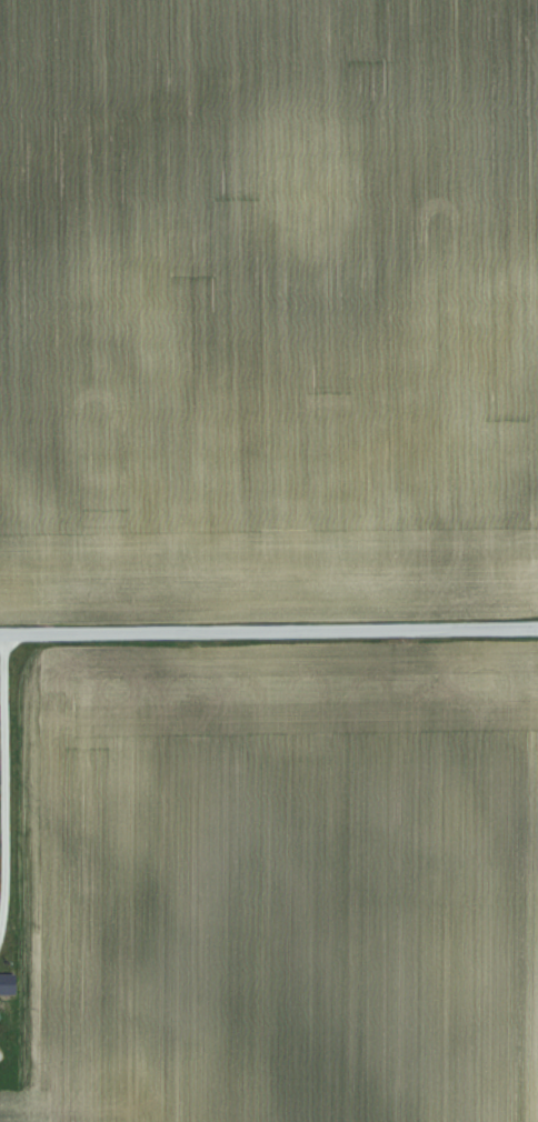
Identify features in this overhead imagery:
road: (268, 629)
road: (1, 770)
road: (1, 921)
building: (9, 982)

